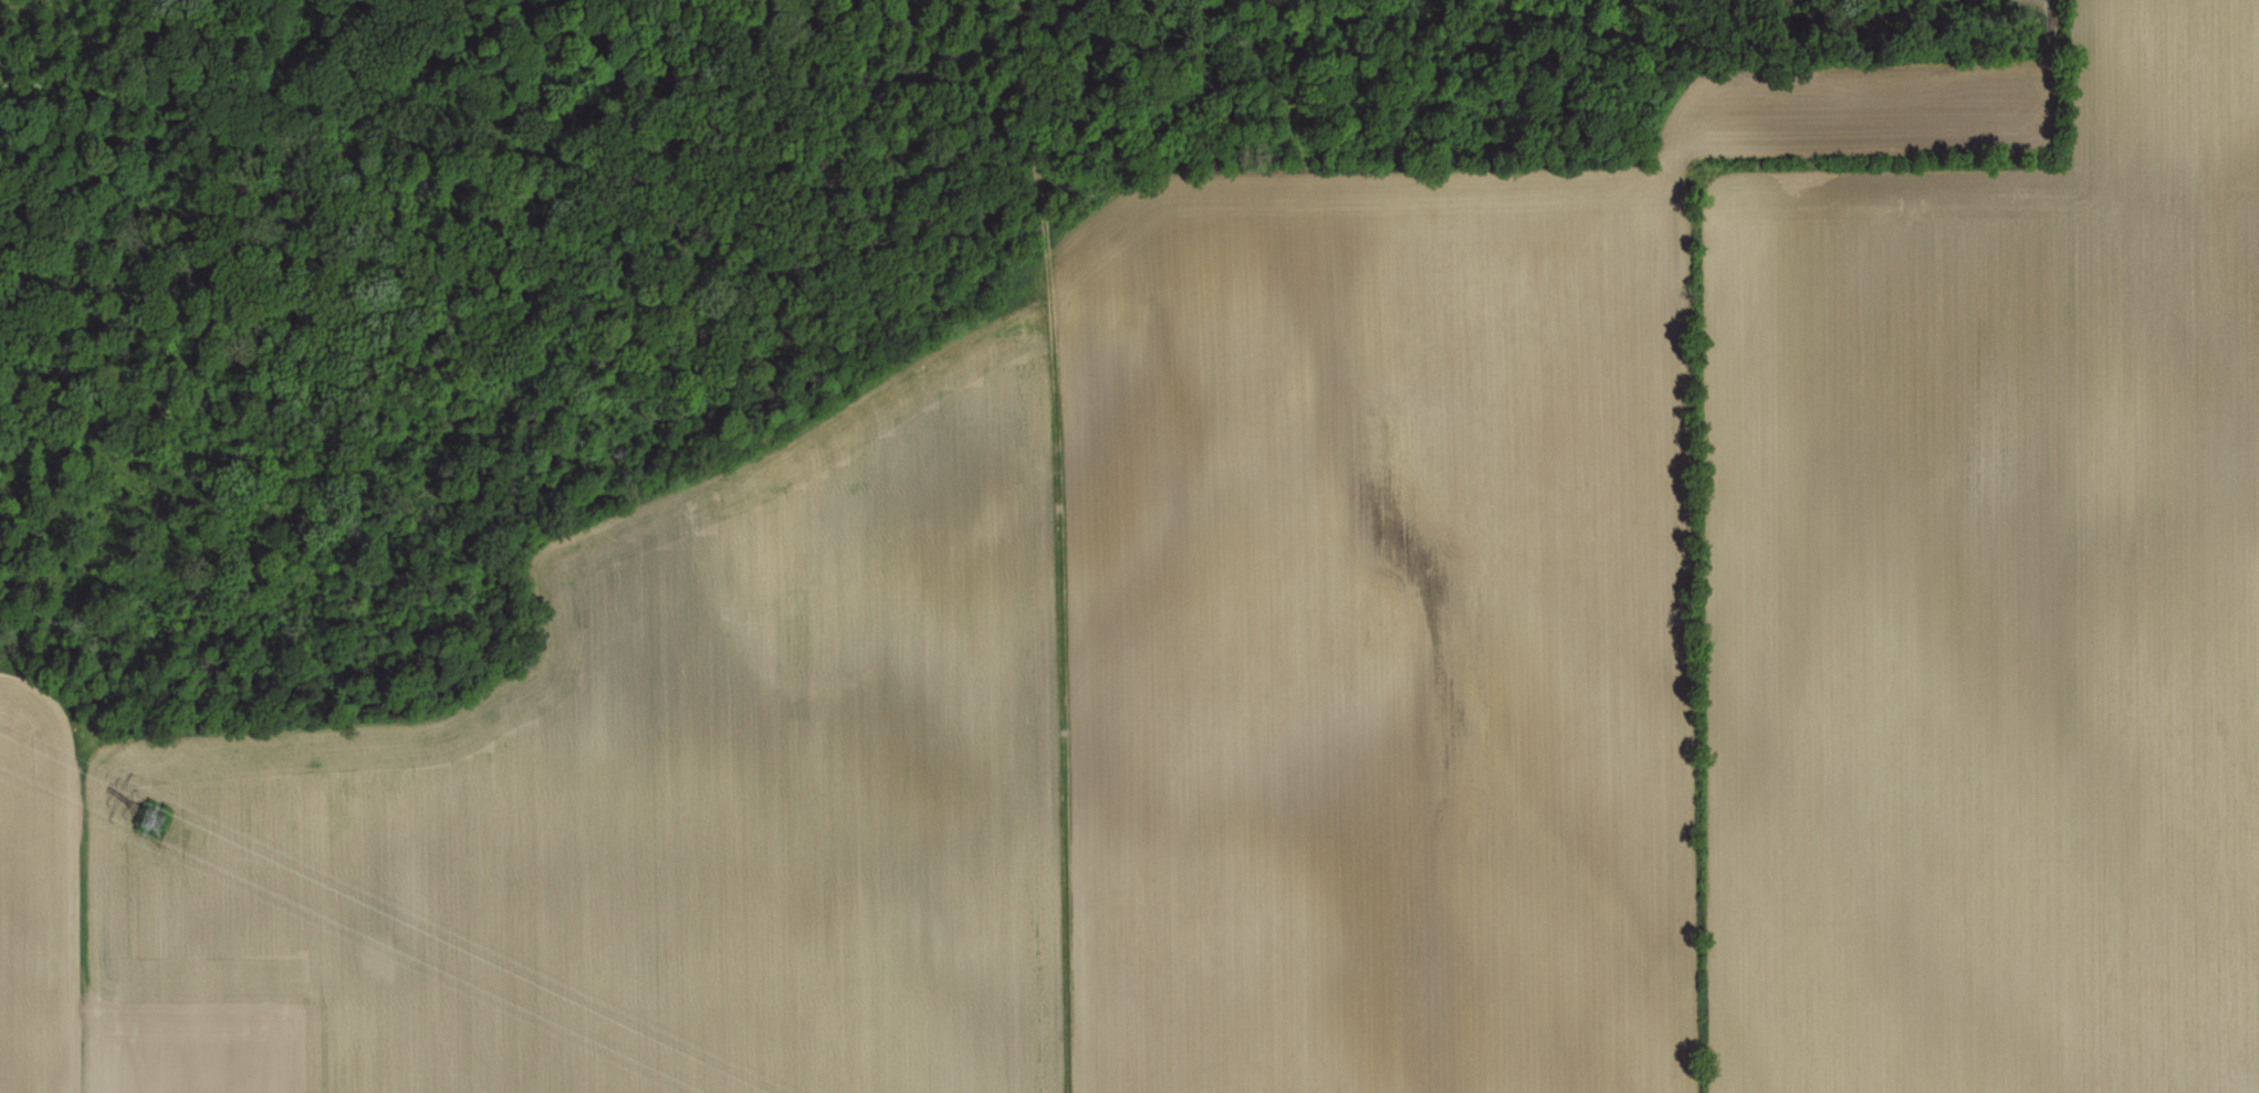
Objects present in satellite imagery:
power tower: (154, 821)

